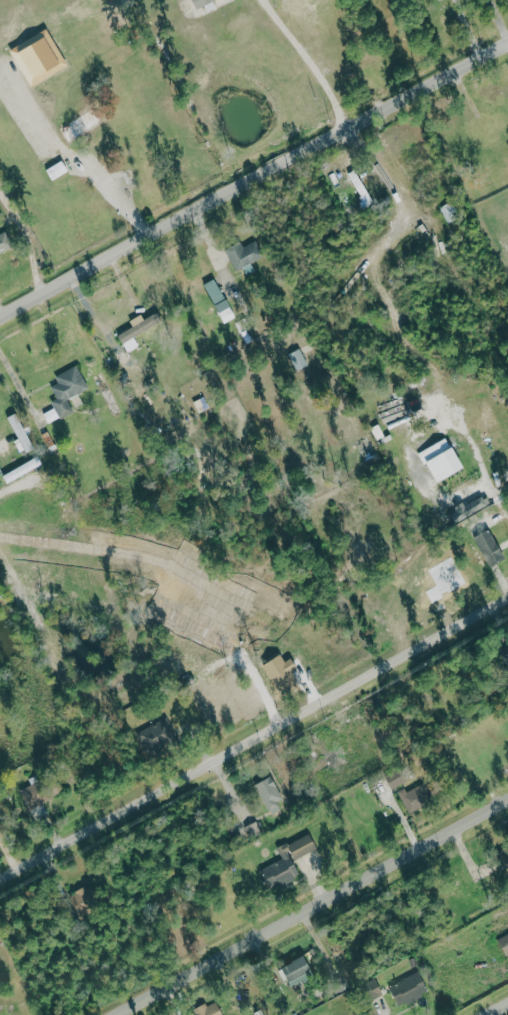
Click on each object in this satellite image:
road: (498, 19)
road: (466, 28)
road: (308, 60)
building: (81, 126)
building: (56, 170)
road: (253, 178)
road: (114, 194)
road: (26, 242)
building: (4, 244)
building: (243, 254)
building: (219, 301)
building: (138, 328)
building: (298, 360)
road: (19, 387)
building: (67, 390)
building: (50, 415)
building: (20, 434)
building: (442, 461)
building: (22, 470)
building: (490, 550)
road: (8, 563)
building: (507, 649)
building: (155, 734)
road: (254, 736)
building: (396, 777)
building: (42, 791)
building: (270, 794)
building: (416, 796)
road: (7, 854)
building: (289, 861)
building: (84, 900)
road: (309, 905)
building: (503, 942)
building: (298, 970)
building: (372, 988)
building: (409, 988)
road: (494, 1007)
building: (207, 1009)

